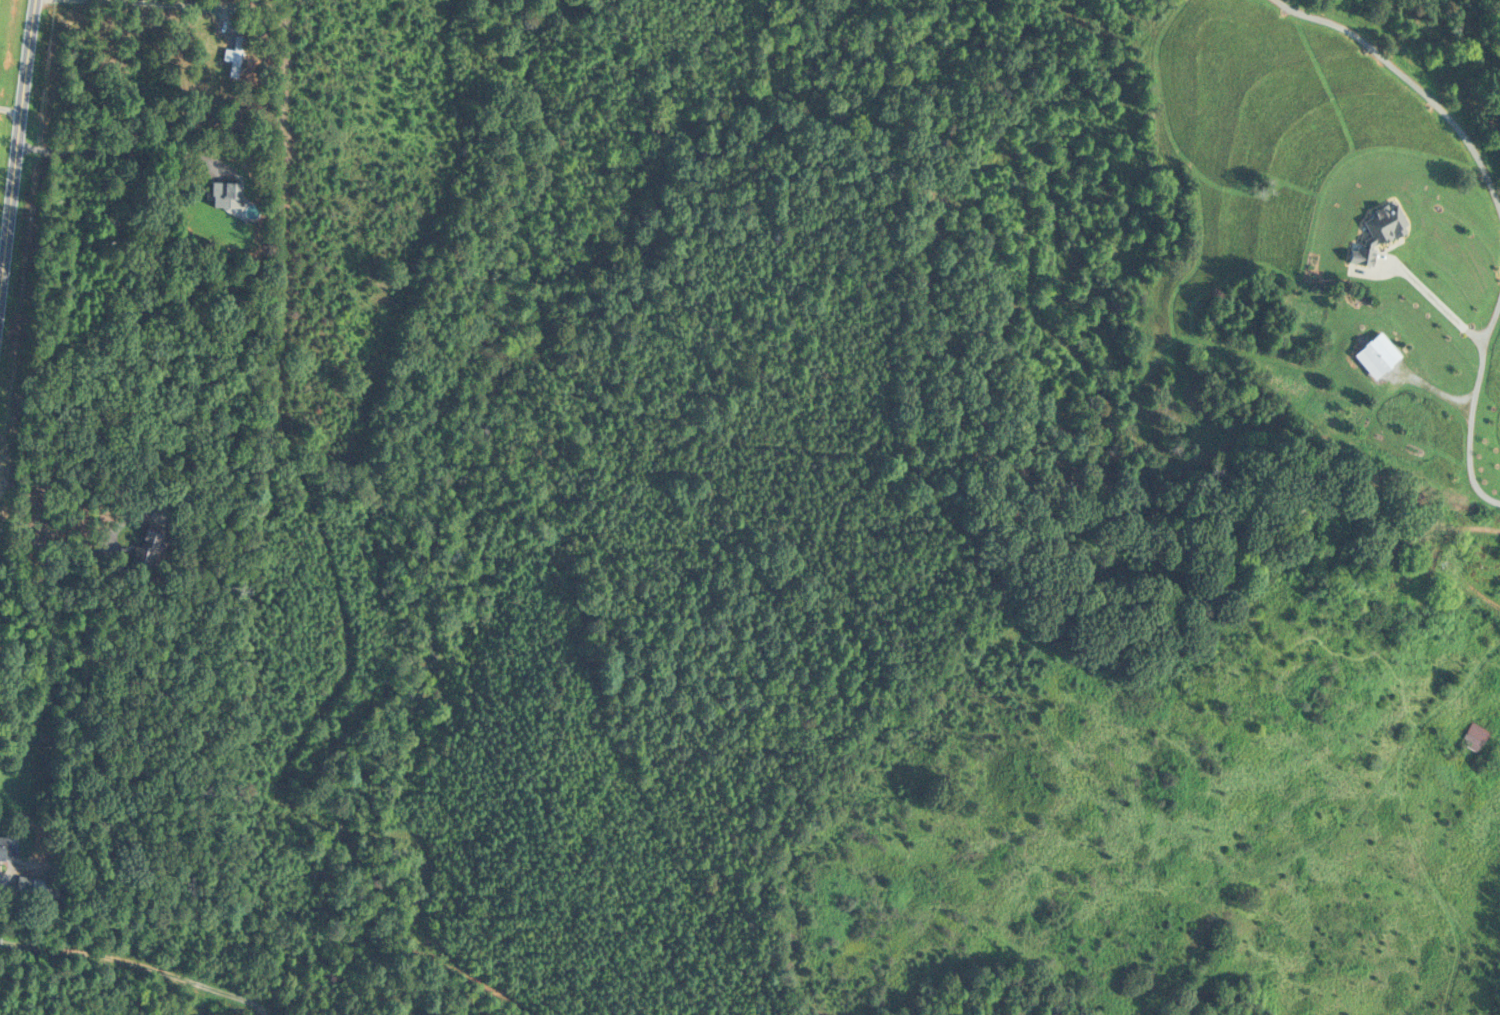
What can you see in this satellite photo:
road: (176, 3)
building: (235, 56)
road: (1408, 79)
road: (15, 141)
building: (226, 194)
road: (1472, 408)
building: (145, 547)
road: (77, 556)
road: (1483, 569)
building: (1401, 576)
building: (1473, 735)
building: (1, 848)
building: (43, 886)
road: (139, 962)

